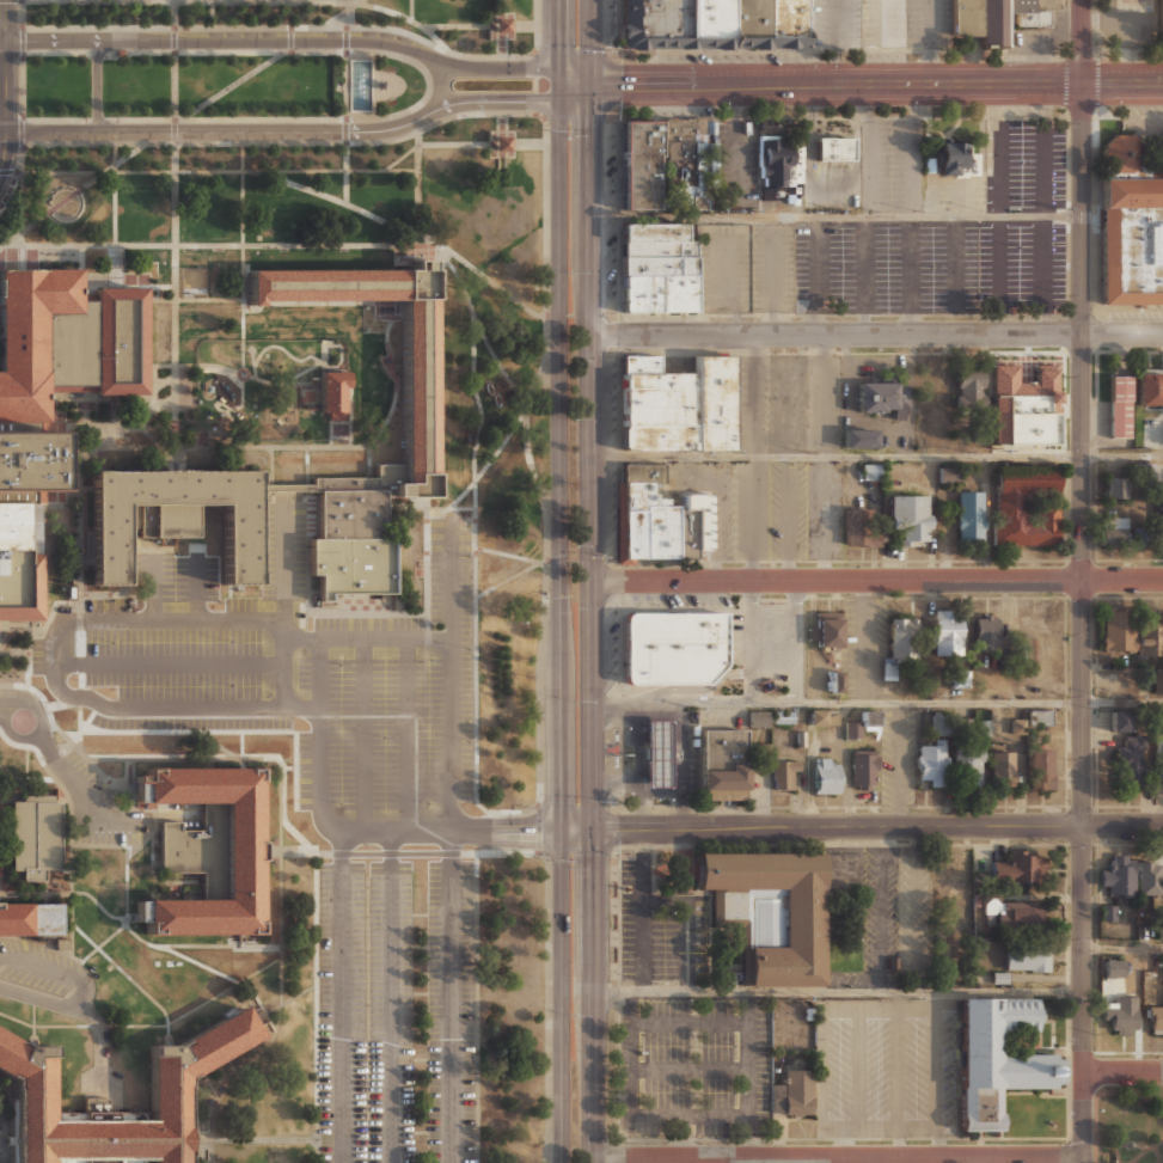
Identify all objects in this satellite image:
road: (65, 0)
road: (109, 0)
road: (136, 0)
road: (154, 0)
road: (212, 0)
road: (122, 1)
road: (238, 1)
road: (308, 1)
road: (240, 2)
road: (412, 11)
road: (342, 13)
building: (1028, 13)
road: (4, 19)
road: (345, 19)
parking lot: (610, 20)
road: (934, 20)
building: (981, 20)
building: (789, 23)
parking lot: (906, 23)
building: (501, 24)
road: (522, 24)
building: (638, 24)
building: (667, 24)
building: (688, 24)
building: (705, 24)
building: (723, 24)
building: (752, 24)
parking lot: (837, 24)
road: (455, 25)
road: (500, 25)
road: (306, 27)
road: (559, 33)
road: (283, 38)
road: (290, 38)
road: (345, 38)
road: (1, 39)
road: (590, 41)
road: (1082, 41)
road: (834, 42)
road: (889, 42)
road: (443, 43)
traffic signals: (559, 43)
road: (533, 53)
road: (173, 57)
parking lot: (732, 57)
road: (934, 62)
road: (20, 63)
road: (534, 65)
road: (575, 74)
road: (535, 82)
road: (559, 82)
road: (1122, 82)
road: (96, 84)
fountain: (361, 84)
road: (440, 84)
traffic signals: (622, 84)
road: (835, 84)
road: (4, 85)
road: (345, 85)
road: (575, 91)
traffic signals: (531, 100)
road: (535, 102)
parking lot: (677, 110)
road: (501, 121)
traffic signals: (592, 123)
road: (284, 128)
road: (1, 130)
road: (495, 130)
road: (345, 131)
building: (642, 139)
road: (737, 141)
road: (373, 142)
road: (531, 143)
building: (500, 145)
building: (835, 148)
road: (871, 149)
road: (918, 149)
road: (1043, 149)
road: (4, 151)
building: (1122, 153)
road: (402, 157)
building: (1008, 157)
building: (951, 159)
building: (688, 163)
parking lot: (739, 163)
building: (775, 163)
parking lot: (894, 165)
parking lot: (612, 166)
road: (209, 171)
road: (345, 173)
building: (641, 175)
parking lot: (834, 184)
road: (834, 184)
road: (418, 185)
road: (10, 189)
road: (71, 194)
parking lot: (790, 201)
building: (641, 202)
road: (243, 208)
road: (116, 210)
road: (176, 213)
road: (835, 216)
road: (411, 235)
building: (656, 240)
building: (1132, 240)
road: (210, 245)
parking lot: (612, 263)
building: (660, 267)
parking lot: (726, 267)
parking lot: (775, 267)
parking lot: (888, 267)
parking lot: (1024, 267)
road: (776, 274)
road: (816, 275)
road: (911, 275)
road: (955, 275)
road: (1000, 275)
road: (1043, 275)
building: (660, 281)
road: (868, 288)
road: (728, 293)
building: (639, 299)
building: (678, 299)
road: (237, 300)
road: (876, 333)
road: (544, 359)
building: (59, 363)
building: (971, 387)
building: (1150, 388)
building: (418, 391)
building: (335, 393)
road: (752, 394)
road: (826, 394)
building: (880, 396)
building: (677, 398)
parking lot: (786, 404)
building: (1120, 406)
road: (477, 409)
building: (1022, 411)
building: (980, 436)
building: (654, 437)
building: (858, 439)
road: (284, 446)
road: (592, 455)
road: (877, 455)
road: (491, 457)
road: (559, 463)
building: (870, 471)
building: (642, 472)
building: (949, 475)
building: (1115, 486)
building: (636, 494)
building: (1159, 498)
building: (1008, 508)
parking lot: (778, 509)
road: (549, 515)
building: (175, 516)
building: (902, 516)
building: (971, 516)
road: (752, 518)
road: (789, 518)
road: (826, 518)
building: (666, 528)
building: (857, 530)
building: (1119, 533)
building: (353, 545)
road: (508, 555)
road: (283, 559)
building: (22, 561)
road: (531, 568)
road: (877, 580)
road: (153, 587)
road: (196, 592)
road: (476, 610)
road: (421, 612)
road: (1082, 623)
road: (65, 624)
building: (1118, 629)
building: (945, 631)
building: (827, 632)
building: (985, 633)
building: (1150, 633)
road: (369, 637)
parking lot: (769, 639)
road: (752, 642)
road: (796, 642)
building: (674, 645)
building: (902, 651)
road: (172, 663)
road: (452, 677)
building: (837, 681)
building: (1157, 681)
road: (693, 687)
road: (37, 691)
road: (1, 697)
road: (876, 703)
road: (307, 709)
building: (783, 717)
building: (1040, 717)
building: (758, 718)
building: (822, 718)
building: (870, 720)
building: (1120, 721)
building: (1157, 722)
building: (941, 723)
building: (852, 729)
road: (207, 734)
road: (368, 734)
road: (409, 734)
road: (76, 737)
road: (240, 746)
building: (657, 753)
gas station: (653, 754)
parking lot: (899, 755)
road: (161, 758)
building: (931, 764)
building: (722, 765)
road: (899, 765)
building: (968, 765)
building: (1132, 765)
road: (635, 766)
road: (681, 766)
building: (1002, 767)
building: (864, 769)
building: (1040, 769)
road: (292, 770)
road: (63, 771)
building: (783, 775)
building: (825, 776)
road: (112, 781)
road: (613, 786)
road: (660, 791)
road: (66, 794)
traffic signals: (561, 801)
parking lot: (337, 804)
parking lot: (97, 807)
road: (507, 809)
road: (539, 827)
road: (575, 828)
traffic signals: (617, 828)
road: (876, 828)
road: (610, 830)
road: (353, 831)
road: (299, 835)
building: (36, 838)
road: (141, 844)
road: (99, 845)
road: (152, 849)
building: (207, 850)
road: (539, 851)
road: (289, 852)
road: (497, 853)
traffic signals: (590, 853)
building: (1017, 867)
building: (949, 875)
building: (1119, 876)
building: (1150, 877)
road: (282, 882)
road: (128, 885)
building: (766, 910)
road: (881, 911)
road: (916, 911)
building: (1022, 912)
building: (1107, 912)
building: (963, 914)
parking lot: (894, 918)
building: (30, 919)
road: (642, 922)
road: (686, 926)
parking lot: (660, 929)
building: (1158, 930)
road: (99, 945)
road: (219, 945)
road: (1122, 948)
building: (1027, 957)
road: (195, 965)
road: (55, 968)
building: (1112, 968)
parking lot: (45, 971)
road: (838, 993)
road: (593, 994)
road: (343, 996)
road: (454, 996)
road: (561, 996)
road: (393, 997)
road: (284, 1002)
road: (550, 1005)
road: (316, 1006)
road: (631, 1006)
road: (746, 1006)
road: (80, 1011)
building: (1121, 1015)
road: (166, 1017)
building: (1155, 1018)
road: (17, 1020)
road: (35, 1021)
road: (100, 1026)
building: (997, 1058)
parking lot: (696, 1066)
road: (822, 1066)
road: (858, 1066)
road: (240, 1067)
road: (688, 1069)
parking lot: (886, 1072)
road: (1124, 1073)
road: (937, 1076)
road: (900, 1081)
building: (171, 1089)
building: (791, 1092)
road: (1098, 1094)
road: (747, 1119)
park: (1127, 1124)
road: (680, 1138)
road: (747, 1138)
road: (258, 1139)
road: (845, 1143)
building: (1128, 1143)
road: (1131, 1144)
road: (212, 1151)
road: (1157, 1152)
road: (1139, 1155)
road: (838, 1158)
road: (723, 1161)
road: (849, 1161)
road: (967, 1161)
road: (1119, 1162)

